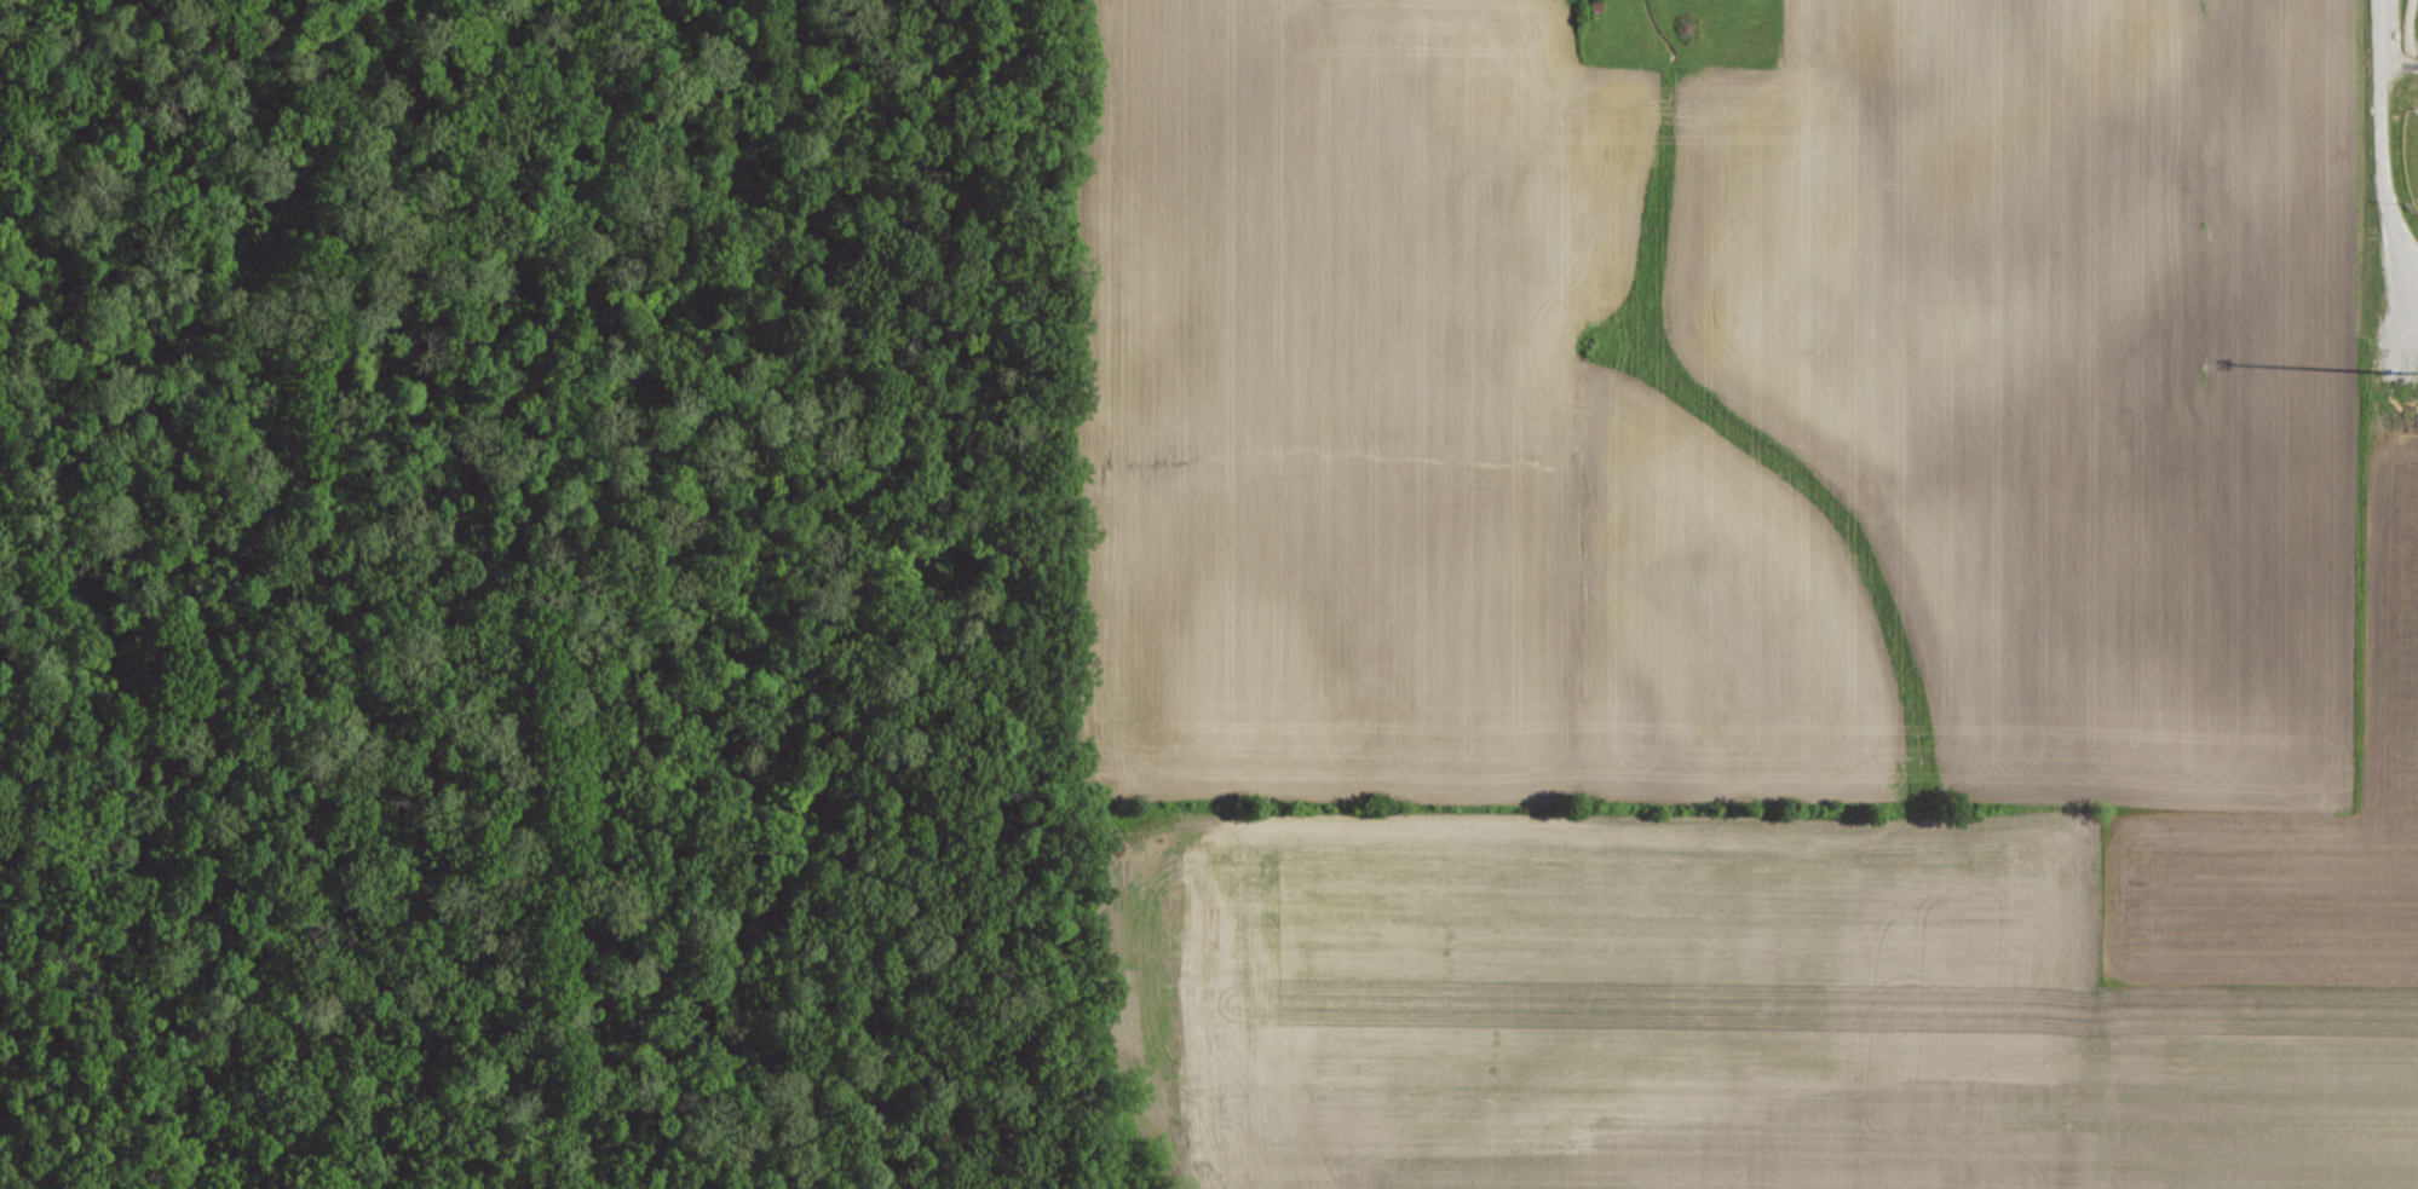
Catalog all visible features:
park: (2412, 25)
park: (2413, 149)

